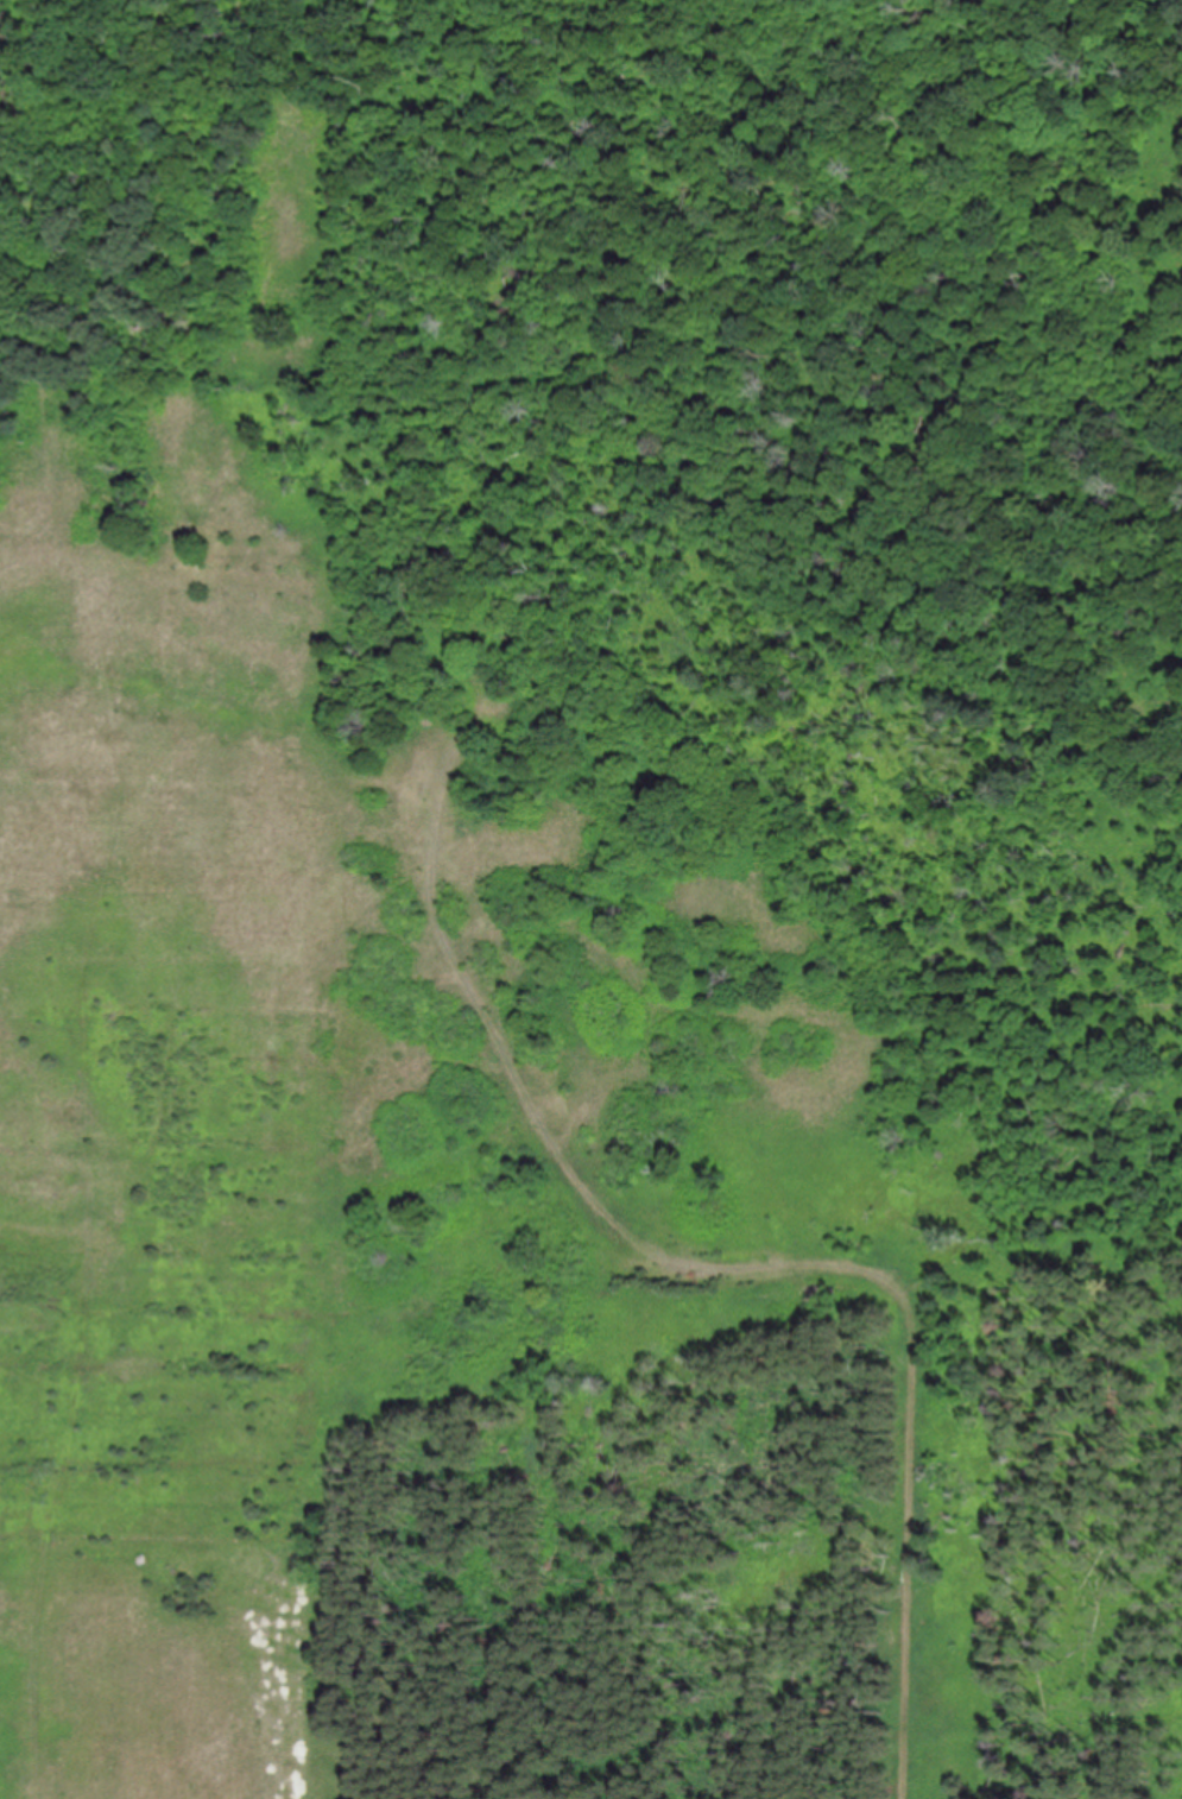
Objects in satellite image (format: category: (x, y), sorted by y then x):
park: (159, 49)

